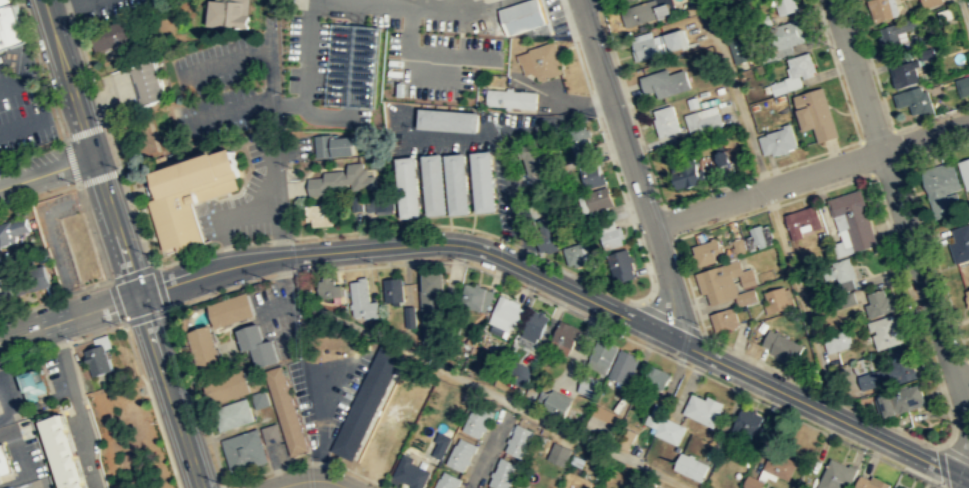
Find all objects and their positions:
building: (930, 2)
road: (598, 4)
road: (612, 4)
road: (408, 5)
road: (484, 5)
building: (784, 6)
road: (67, 7)
parking lot: (103, 7)
building: (693, 8)
building: (879, 9)
building: (639, 12)
parking lot: (553, 13)
building: (226, 14)
road: (544, 14)
building: (520, 15)
road: (963, 15)
road: (566, 19)
building: (760, 21)
building: (10, 25)
road: (558, 30)
building: (893, 31)
building: (112, 34)
building: (781, 38)
street lamp: (607, 39)
building: (673, 39)
street lamp: (832, 46)
building: (644, 48)
building: (738, 49)
building: (925, 53)
road: (426, 54)
road: (225, 58)
building: (539, 60)
parking lot: (444, 62)
building: (800, 64)
road: (871, 64)
building: (353, 65)
road: (581, 66)
road: (308, 68)
road: (836, 70)
building: (903, 73)
building: (144, 81)
building: (664, 82)
road: (15, 83)
building: (962, 85)
building: (778, 87)
parking lot: (216, 90)
building: (511, 98)
building: (914, 100)
parking lot: (22, 102)
road: (594, 105)
road: (233, 106)
road: (630, 106)
building: (815, 114)
road: (931, 116)
building: (445, 119)
building: (665, 121)
building: (701, 122)
road: (23, 124)
road: (85, 132)
road: (108, 133)
road: (876, 134)
building: (578, 136)
building: (777, 140)
building: (333, 144)
road: (898, 145)
road: (277, 149)
road: (32, 150)
road: (936, 152)
road: (864, 156)
building: (723, 158)
road: (71, 160)
building: (530, 160)
street lamp: (117, 166)
road: (632, 167)
road: (886, 168)
road: (46, 171)
building: (964, 171)
road: (761, 172)
building: (685, 173)
road: (809, 173)
building: (593, 174)
road: (99, 177)
building: (342, 179)
building: (481, 180)
street lamp: (875, 181)
building: (455, 182)
building: (431, 183)
road: (240, 186)
building: (406, 186)
building: (940, 187)
road: (470, 191)
building: (183, 194)
road: (39, 195)
road: (422, 198)
building: (600, 198)
street lamp: (658, 200)
building: (382, 201)
road: (772, 206)
road: (773, 209)
road: (627, 210)
parking lot: (235, 212)
road: (484, 212)
building: (319, 213)
road: (225, 214)
road: (448, 214)
road: (460, 214)
road: (902, 215)
building: (853, 217)
road: (449, 220)
road: (669, 220)
building: (801, 220)
building: (12, 229)
road: (359, 230)
building: (545, 234)
building: (756, 235)
road: (300, 236)
building: (613, 237)
street lamp: (296, 240)
road: (120, 243)
building: (959, 243)
building: (738, 245)
building: (706, 251)
street lamp: (145, 252)
building: (574, 255)
road: (501, 258)
road: (546, 258)
street lamp: (468, 260)
road: (935, 261)
street lamp: (374, 262)
building: (621, 264)
building: (837, 269)
road: (131, 272)
road: (289, 273)
building: (32, 280)
building: (716, 283)
road: (689, 286)
road: (161, 287)
building: (330, 287)
building: (393, 289)
building: (1, 292)
road: (219, 292)
building: (967, 294)
building: (474, 295)
building: (745, 296)
road: (54, 298)
building: (362, 298)
road: (290, 300)
road: (640, 300)
building: (775, 300)
building: (839, 300)
road: (115, 301)
building: (877, 303)
street lamp: (915, 305)
building: (432, 307)
building: (230, 309)
building: (509, 309)
road: (914, 312)
building: (408, 316)
road: (145, 317)
road: (669, 318)
building: (723, 318)
building: (534, 325)
street lamp: (127, 327)
road: (702, 331)
building: (885, 331)
street lamp: (627, 334)
building: (564, 336)
street lamp: (71, 338)
building: (836, 340)
road: (633, 341)
road: (61, 344)
building: (256, 344)
building: (781, 346)
building: (203, 348)
building: (601, 355)
building: (101, 359)
road: (968, 359)
road: (968, 361)
street lamp: (686, 363)
building: (623, 366)
building: (890, 370)
road: (77, 372)
parking lot: (56, 374)
building: (655, 376)
road: (962, 379)
building: (31, 385)
building: (589, 385)
building: (224, 387)
road: (821, 391)
road: (489, 392)
building: (906, 397)
building: (259, 400)
building: (366, 402)
road: (77, 404)
building: (887, 404)
road: (151, 405)
building: (556, 405)
street lamp: (778, 406)
road: (75, 407)
road: (4, 408)
building: (702, 409)
building: (284, 410)
building: (232, 414)
building: (607, 419)
building: (475, 420)
street lamp: (952, 421)
building: (744, 423)
building: (668, 430)
building: (270, 433)
road: (6, 434)
building: (519, 441)
building: (439, 444)
parking lot: (24, 450)
building: (243, 450)
street lamp: (869, 450)
building: (68, 452)
road: (954, 452)
building: (459, 453)
building: (558, 453)
road: (19, 455)
street lamp: (316, 455)
building: (4, 461)
building: (779, 465)
building: (689, 466)
road: (941, 466)
building: (410, 472)
building: (502, 474)
building: (836, 475)
road: (310, 479)
road: (968, 479)
building: (445, 480)
road: (13, 481)
road: (222, 481)
building: (752, 482)
building: (870, 482)
parking lot: (38, 483)
road: (224, 486)
building: (11, 487)
building: (896, 487)

